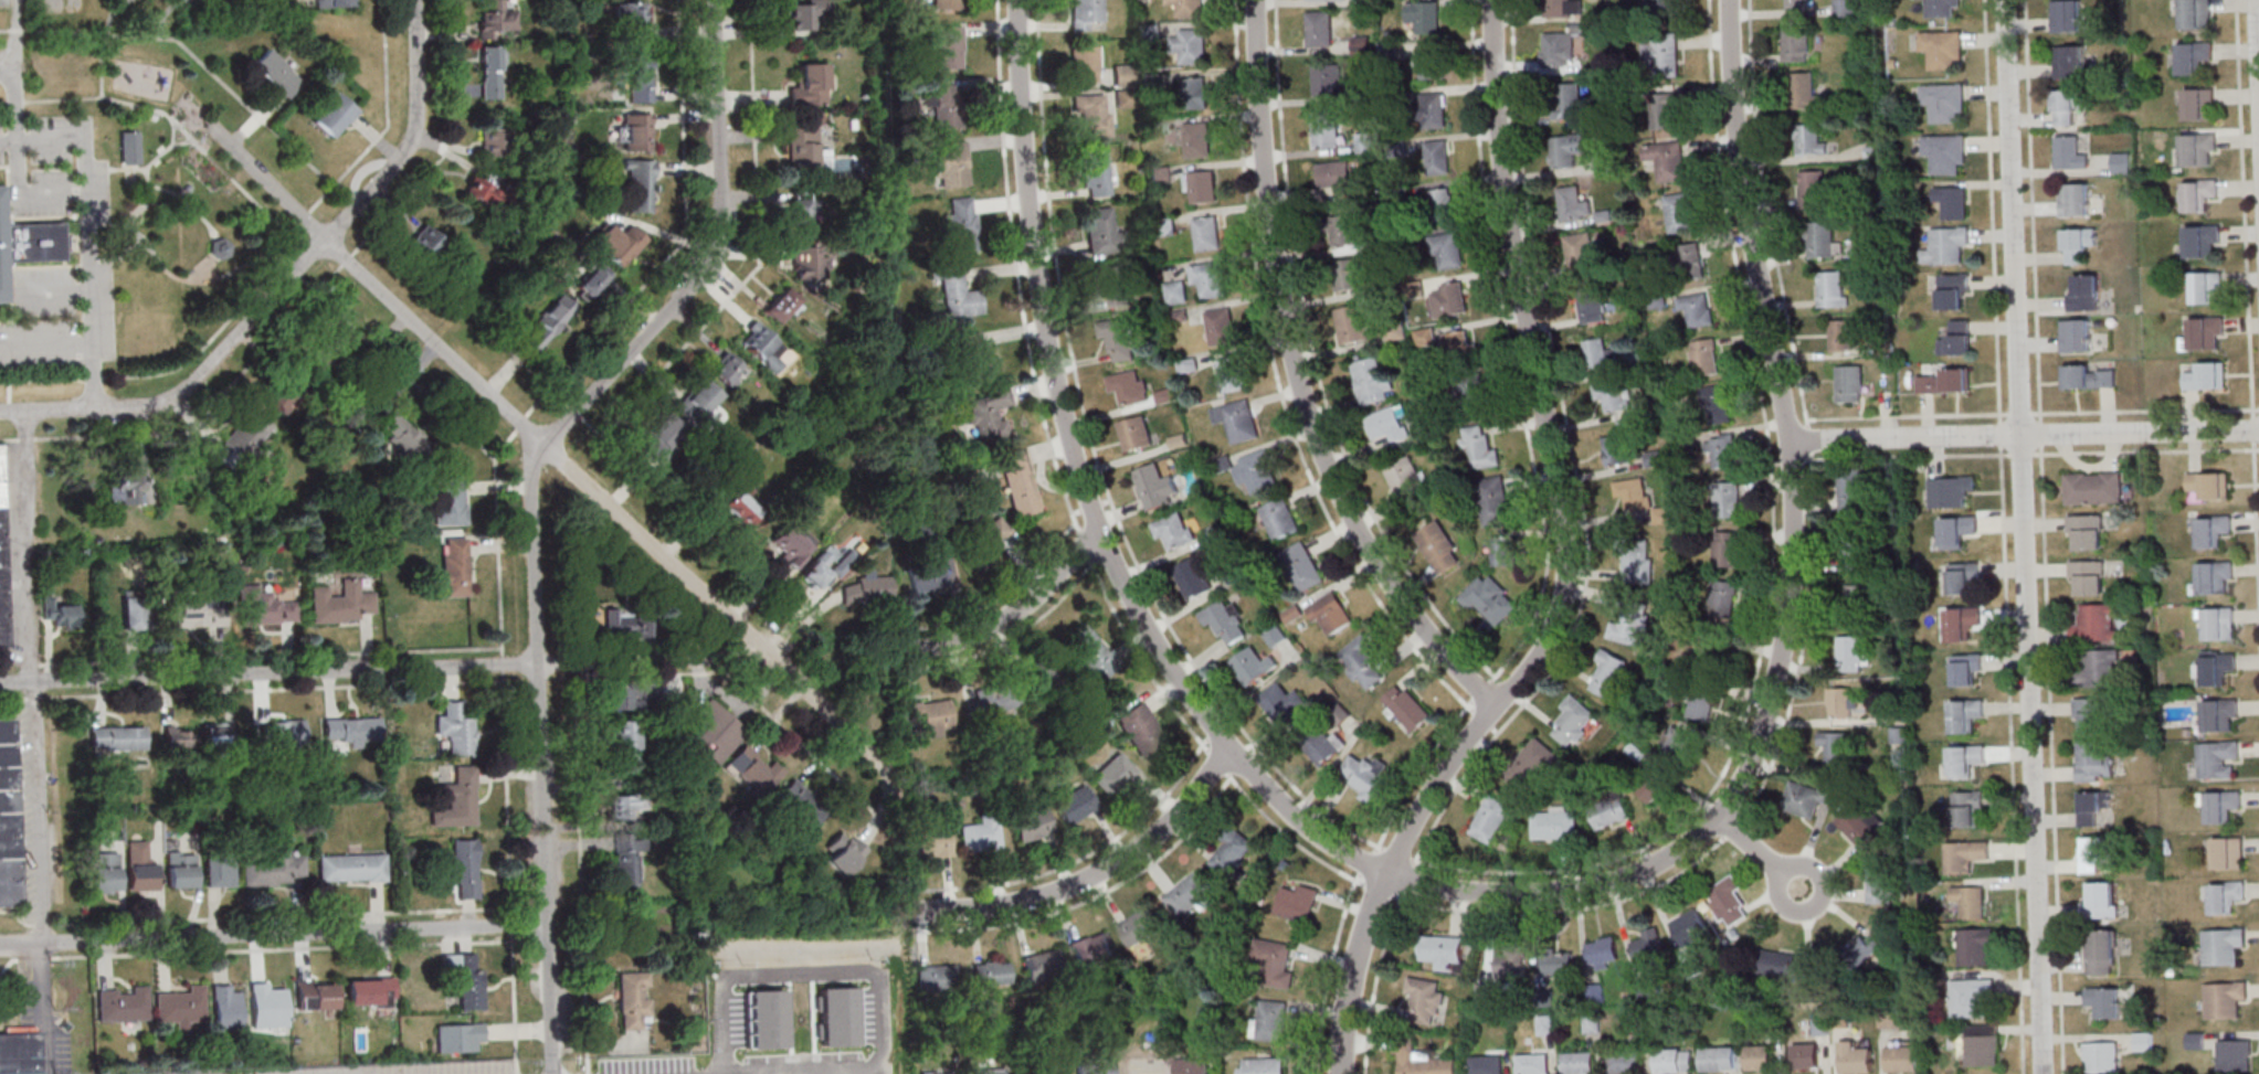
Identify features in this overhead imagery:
building: (1326, 0)
building: (334, 3)
building: (947, 4)
building: (1796, 4)
building: (1664, 7)
building: (1189, 8)
building: (1560, 8)
building: (1943, 8)
building: (1086, 13)
building: (2196, 13)
park: (159, 14)
road: (166, 14)
building: (807, 14)
building: (1425, 15)
building: (2067, 15)
building: (494, 17)
building: (630, 17)
building: (1319, 30)
road: (87, 33)
road: (2257, 34)
building: (1796, 43)
road: (103, 44)
building: (1189, 44)
building: (950, 46)
building: (1559, 49)
building: (1662, 54)
building: (2193, 56)
building: (2070, 61)
building: (1433, 63)
building: (1084, 64)
road: (7, 68)
building: (277, 73)
building: (490, 75)
building: (1123, 75)
building: (640, 78)
building: (1328, 79)
building: (811, 86)
building: (1195, 88)
building: (1806, 92)
building: (1125, 98)
building: (1567, 100)
building: (1944, 102)
building: (2198, 104)
building: (2068, 105)
building: (948, 106)
building: (1434, 110)
building: (1664, 110)
road: (168, 114)
building: (1094, 114)
building: (335, 115)
road: (388, 120)
building: (1323, 128)
road: (15, 130)
road: (175, 131)
building: (636, 131)
building: (1811, 139)
building: (495, 141)
building: (1196, 141)
building: (128, 147)
building: (2198, 149)
building: (1565, 150)
building: (806, 151)
building: (2070, 152)
building: (1945, 153)
building: (1438, 157)
building: (1667, 160)
building: (2121, 162)
building: (951, 163)
parking lot: (53, 166)
road: (117, 169)
building: (1095, 173)
road: (426, 174)
building: (1161, 174)
building: (1336, 178)
building: (640, 185)
building: (1201, 187)
building: (187, 188)
building: (1812, 188)
park: (165, 190)
road: (181, 192)
building: (482, 192)
building: (2199, 194)
building: (2075, 199)
building: (1952, 201)
building: (1443, 204)
building: (1574, 204)
building: (802, 211)
building: (1679, 212)
road: (134, 214)
road: (305, 217)
building: (963, 225)
building: (1167, 227)
road: (89, 228)
building: (1343, 230)
building: (1101, 231)
building: (1207, 233)
road: (138, 240)
building: (425, 240)
building: (1823, 240)
building: (2203, 241)
building: (29, 243)
road: (285, 243)
building: (617, 243)
road: (218, 244)
building: (2078, 244)
building: (1947, 246)
building: (220, 248)
building: (1447, 249)
building: (1581, 253)
road: (122, 254)
building: (1690, 262)
building: (810, 264)
road: (239, 266)
road: (296, 272)
building: (1348, 274)
building: (1207, 278)
building: (592, 280)
road: (309, 284)
building: (1112, 285)
road: (286, 286)
road: (377, 286)
building: (2206, 287)
building: (1833, 288)
building: (1953, 290)
road: (54, 291)
building: (1175, 291)
building: (2083, 291)
building: (959, 294)
building: (1449, 299)
building: (782, 306)
building: (1592, 306)
road: (2248, 308)
building: (1697, 309)
parking lot: (60, 317)
building: (548, 323)
building: (1352, 325)
building: (1221, 326)
building: (2204, 333)
building: (1843, 334)
building: (2076, 334)
building: (1956, 338)
building: (1119, 339)
road: (46, 343)
building: (1458, 344)
building: (766, 348)
building: (1600, 353)
building: (327, 354)
building: (974, 357)
building: (1704, 357)
building: (1189, 364)
building: (728, 369)
road: (165, 373)
building: (1229, 373)
building: (2090, 376)
building: (2206, 376)
road: (1298, 380)
building: (1943, 380)
building: (1373, 381)
building: (1849, 383)
building: (1129, 386)
building: (282, 394)
building: (1474, 394)
building: (1614, 395)
building: (697, 400)
building: (1716, 404)
building: (989, 414)
building: (1236, 419)
building: (1386, 424)
building: (1137, 433)
road: (556, 434)
road: (2024, 435)
building: (403, 436)
building: (663, 438)
building: (245, 443)
building: (1479, 448)
building: (1619, 449)
building: (1722, 450)
building: (1256, 471)
building: (1403, 476)
building: (1022, 483)
building: (2209, 485)
building: (1155, 486)
building: (125, 487)
building: (2093, 487)
building: (1951, 490)
road: (1087, 491)
building: (1630, 492)
building: (1852, 493)
building: (1493, 499)
building: (1729, 499)
building: (740, 500)
building: (450, 501)
building: (1278, 519)
building: (2213, 530)
building: (1175, 531)
building: (1957, 531)
building: (2087, 531)
building: (991, 535)
road: (2004, 536)
road: (2023, 536)
road: (2042, 536)
road: (24, 545)
building: (1439, 547)
building: (1724, 549)
building: (1855, 550)
building: (1503, 551)
building: (1636, 560)
building: (3, 561)
road: (1564, 563)
building: (1302, 565)
building: (827, 568)
building: (452, 570)
building: (927, 574)
building: (2088, 576)
building: (1193, 577)
building: (2215, 577)
building: (1963, 578)
building: (869, 588)
road: (1790, 593)
building: (1723, 597)
road: (708, 599)
building: (1489, 599)
building: (1859, 599)
building: (340, 603)
building: (262, 608)
road: (1017, 609)
building: (133, 613)
building: (59, 614)
building: (1329, 614)
building: (191, 615)
building: (1226, 621)
building: (2097, 621)
building: (1962, 623)
building: (1632, 624)
building: (2219, 624)
building: (625, 625)
building: (1849, 650)
building: (1091, 651)
building: (1701, 656)
road: (655, 661)
building: (1362, 661)
building: (1252, 666)
building: (2097, 667)
building: (2217, 667)
building: (1966, 668)
building: (1043, 671)
building: (1606, 672)
road: (285, 674)
road: (15, 682)
road: (249, 690)
building: (629, 693)
building: (993, 700)
building: (1282, 702)
building: (1845, 702)
building: (1701, 705)
building: (1407, 708)
building: (2090, 713)
building: (1966, 714)
building: (2219, 714)
building: (933, 716)
building: (1574, 722)
building: (351, 727)
building: (456, 729)
building: (718, 729)
building: (1141, 729)
building: (283, 732)
building: (196, 736)
building: (117, 737)
building: (623, 740)
building: (1681, 744)
building: (1323, 745)
building: (1834, 746)
building: (2217, 759)
building: (1965, 761)
building: (2094, 762)
building: (1530, 764)
building: (753, 768)
building: (1113, 774)
building: (1365, 775)
building: (1653, 785)
building: (1808, 797)
building: (457, 800)
building: (801, 802)
building: (626, 805)
building: (1076, 805)
building: (2221, 806)
building: (2092, 807)
building: (1967, 808)
building: (1611, 811)
road: (36, 815)
building: (8, 817)
building: (1491, 819)
building: (1555, 822)
building: (1033, 825)
building: (1860, 825)
building: (982, 834)
road: (509, 836)
building: (933, 841)
building: (844, 852)
building: (1233, 853)
road: (1757, 853)
building: (2092, 853)
building: (2227, 853)
building: (1966, 855)
building: (626, 858)
building: (140, 868)
building: (351, 868)
building: (463, 868)
building: (180, 869)
building: (275, 870)
building: (104, 872)
building: (219, 873)
road: (1097, 875)
building: (1879, 884)
building: (1190, 893)
building: (2225, 896)
building: (2102, 900)
building: (1296, 901)
building: (1728, 901)
building: (1971, 901)
building: (1140, 927)
building: (1690, 927)
road: (273, 936)
building: (1647, 945)
building: (2223, 945)
building: (1976, 946)
building: (1091, 948)
building: (1865, 948)
building: (1443, 951)
building: (1603, 951)
building: (2102, 951)
building: (1274, 961)
building: (1559, 963)
building: (1776, 964)
building: (1511, 965)
building: (1044, 966)
road: (873, 971)
building: (992, 974)
building: (937, 978)
building: (465, 980)
building: (370, 992)
building: (315, 995)
building: (1970, 996)
road: (549, 999)
building: (633, 999)
building: (2225, 999)
building: (1426, 1001)
building: (2104, 1001)
building: (268, 1003)
building: (123, 1004)
building: (226, 1007)
building: (181, 1008)
road: (44, 1011)
parking lot: (867, 1014)
building: (837, 1015)
building: (766, 1018)
parking lot: (736, 1019)
building: (1271, 1020)
building: (2143, 1041)
building: (1982, 1044)
building: (19, 1053)
building: (1806, 1055)
building: (2234, 1055)
building: (1760, 1056)
building: (1902, 1056)
building: (2102, 1056)
building: (1856, 1057)
building: (1720, 1059)
building: (1674, 1060)
building: (1424, 1062)
building: (1579, 1062)
building: (1626, 1062)
building: (1533, 1063)
building: (1487, 1064)
parking lot: (648, 1065)
building: (1146, 1065)
building: (1262, 1065)
building: (1096, 1066)
building: (1192, 1066)
building: (990, 1071)
building: (1046, 1071)
road: (812, 1072)
building: (935, 1072)

